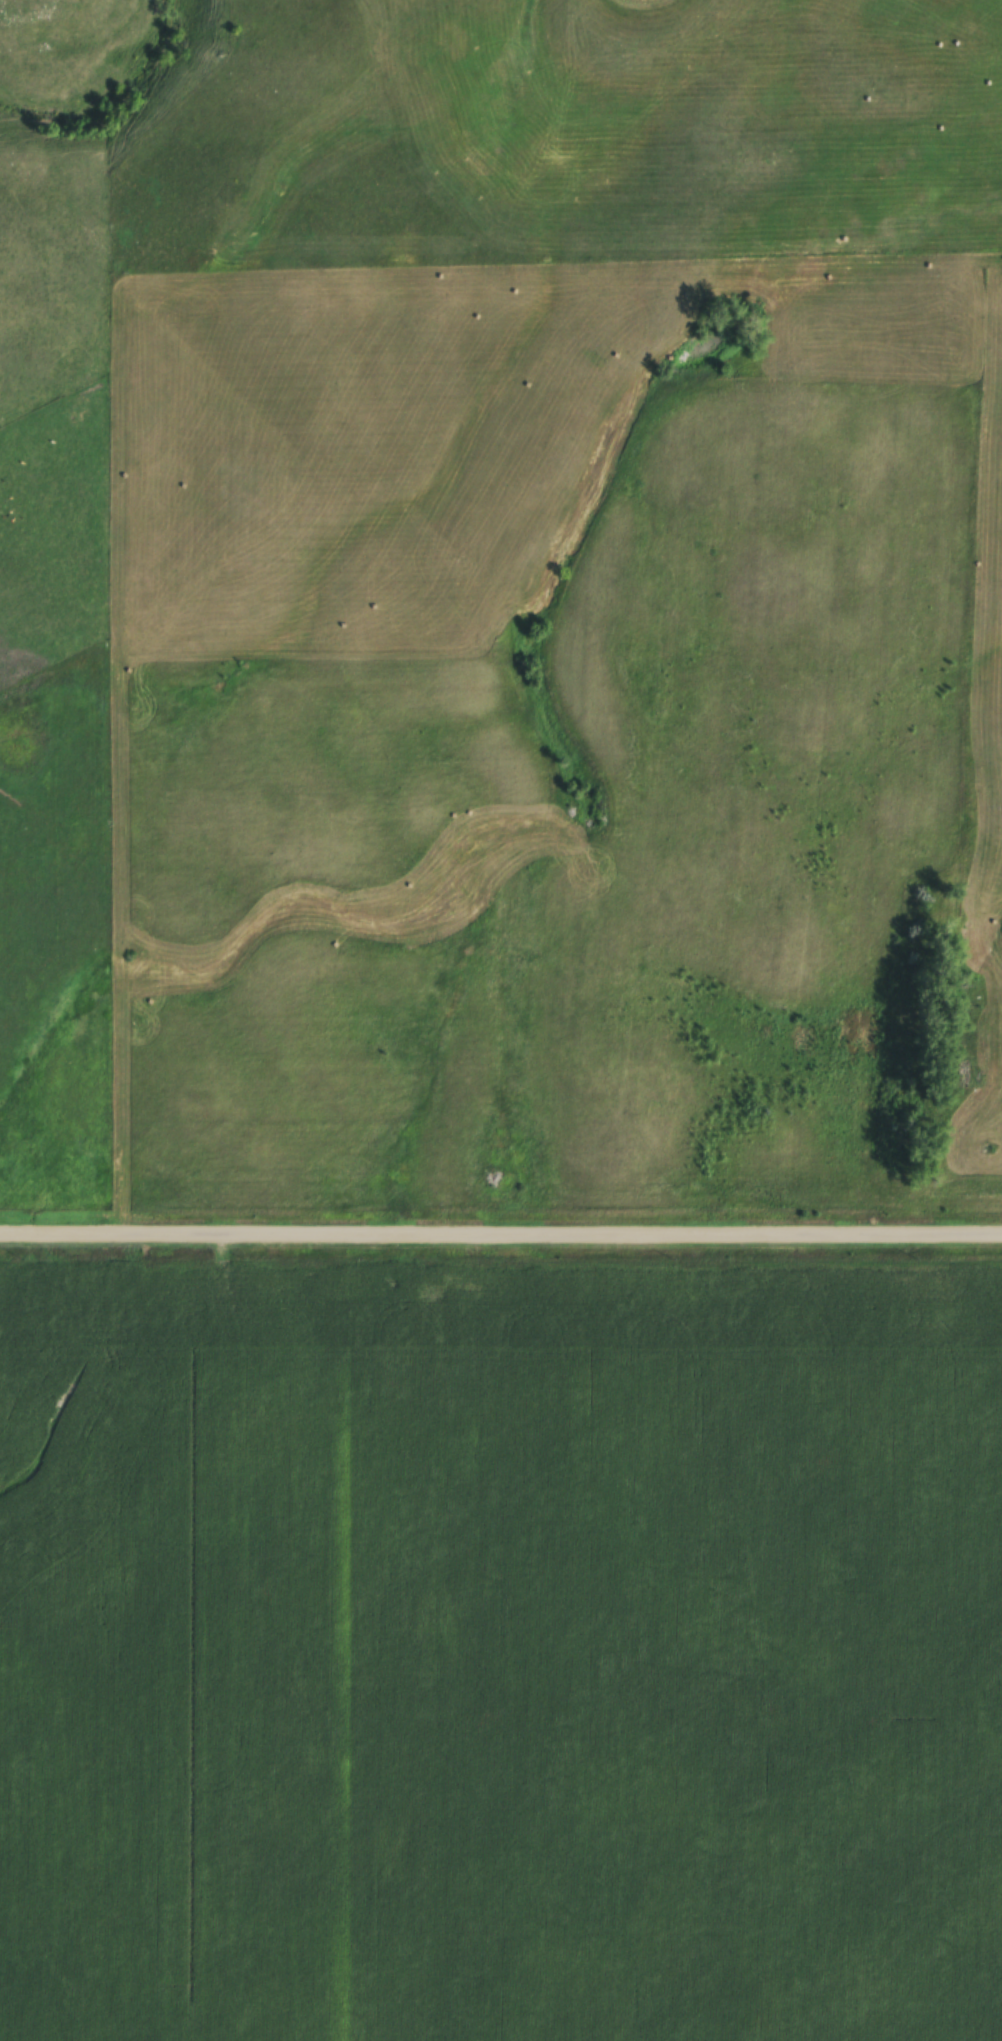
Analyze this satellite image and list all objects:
road: (501, 1230)

